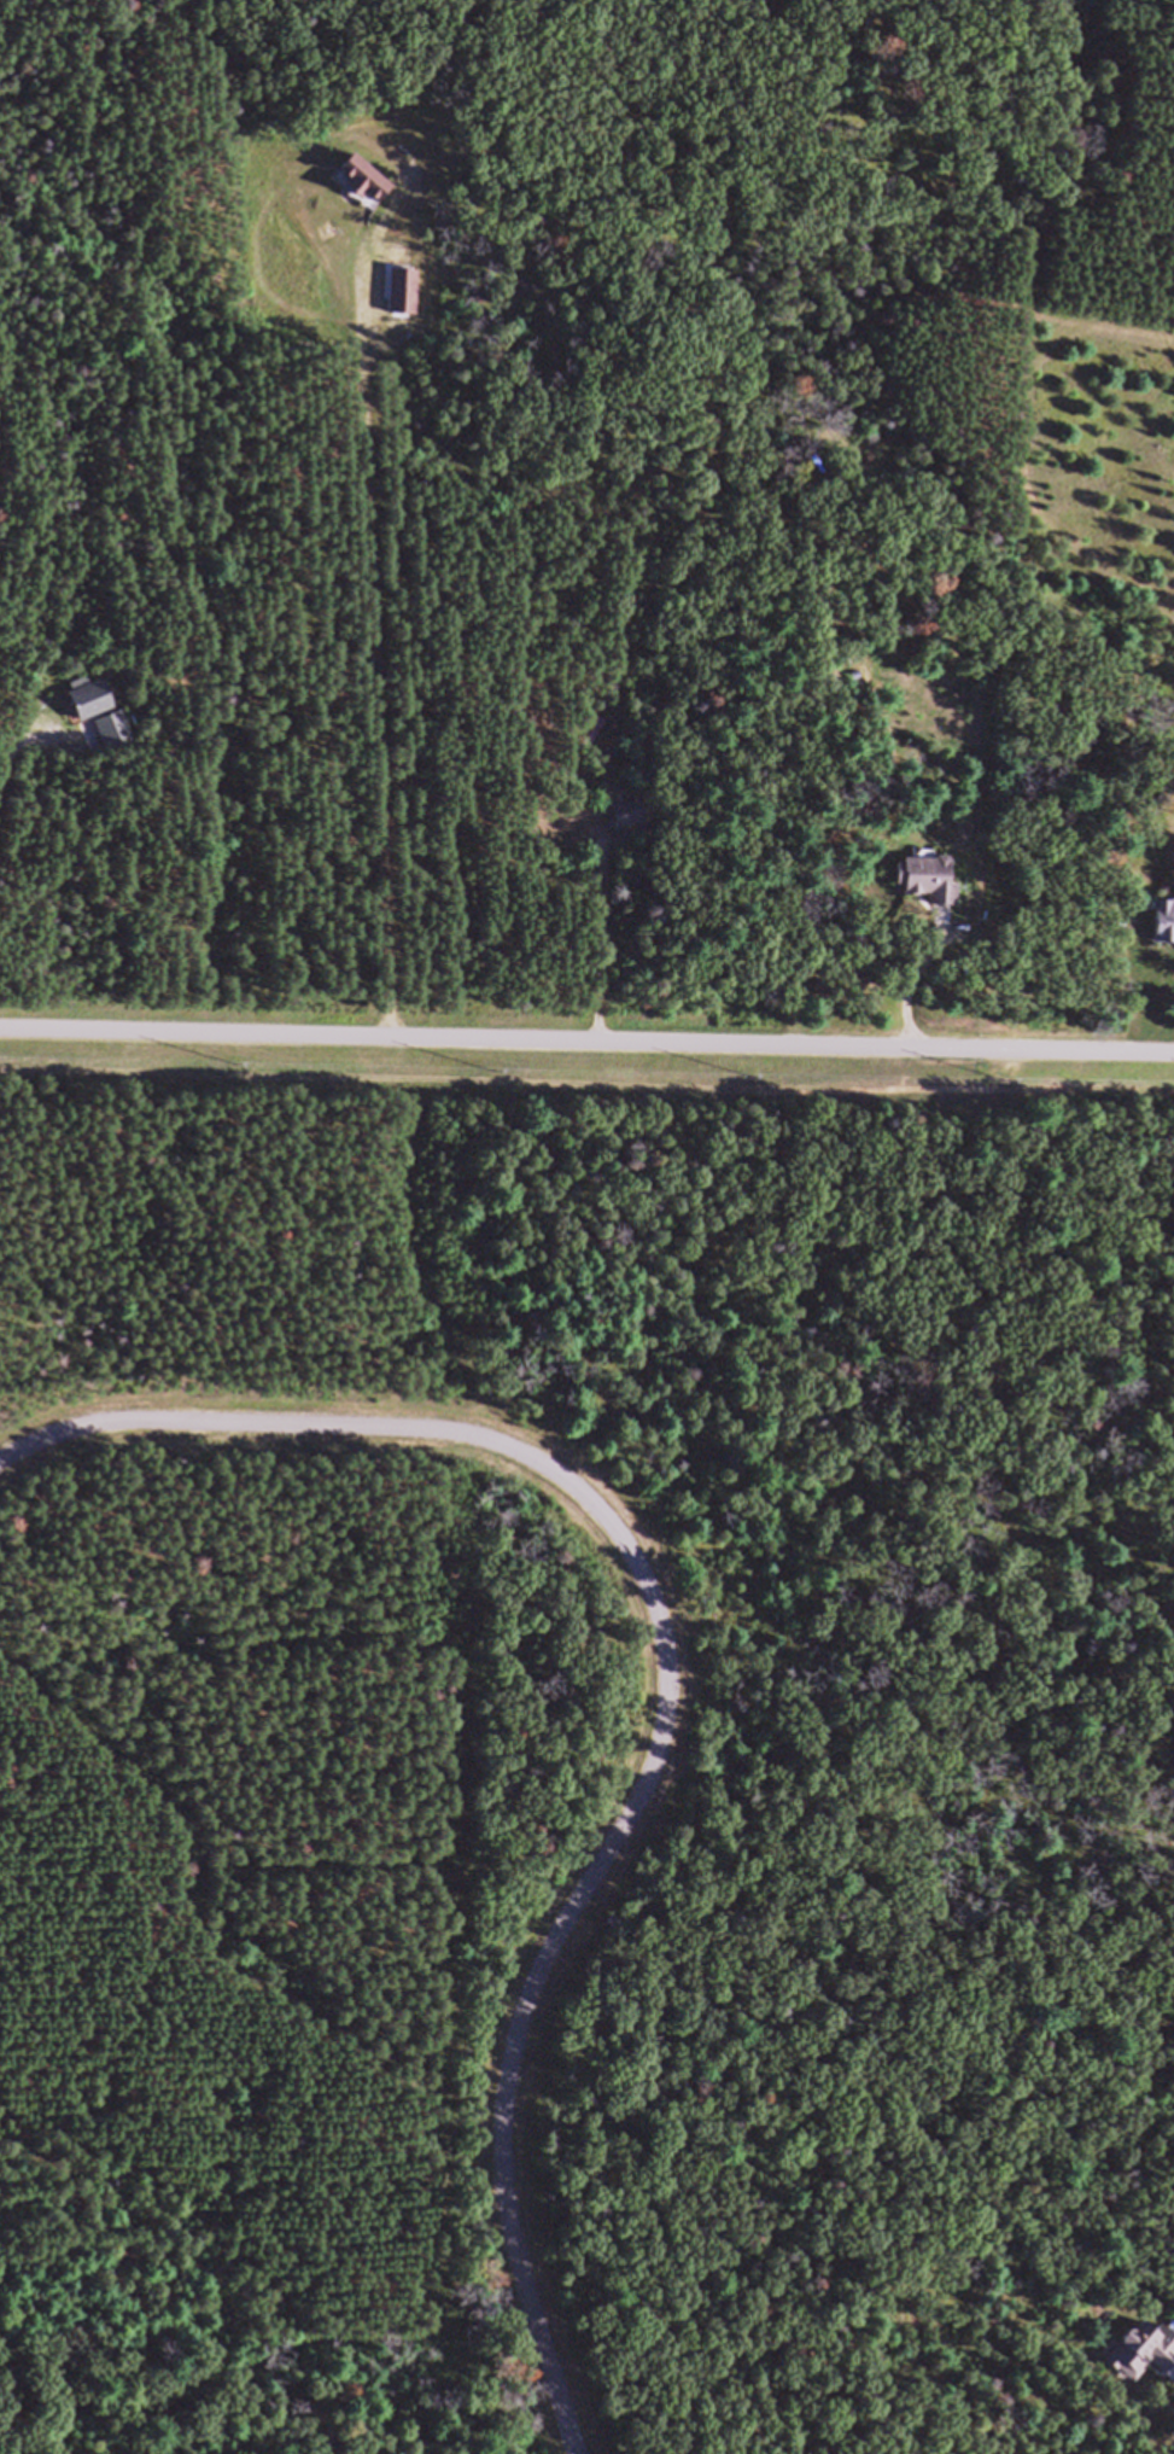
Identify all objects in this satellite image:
building: (89, 711)
building: (116, 741)
building: (630, 830)
building: (566, 832)
building: (928, 890)
building: (1163, 932)
road: (911, 975)
road: (586, 1033)
road: (678, 1683)
building: (1141, 2361)

